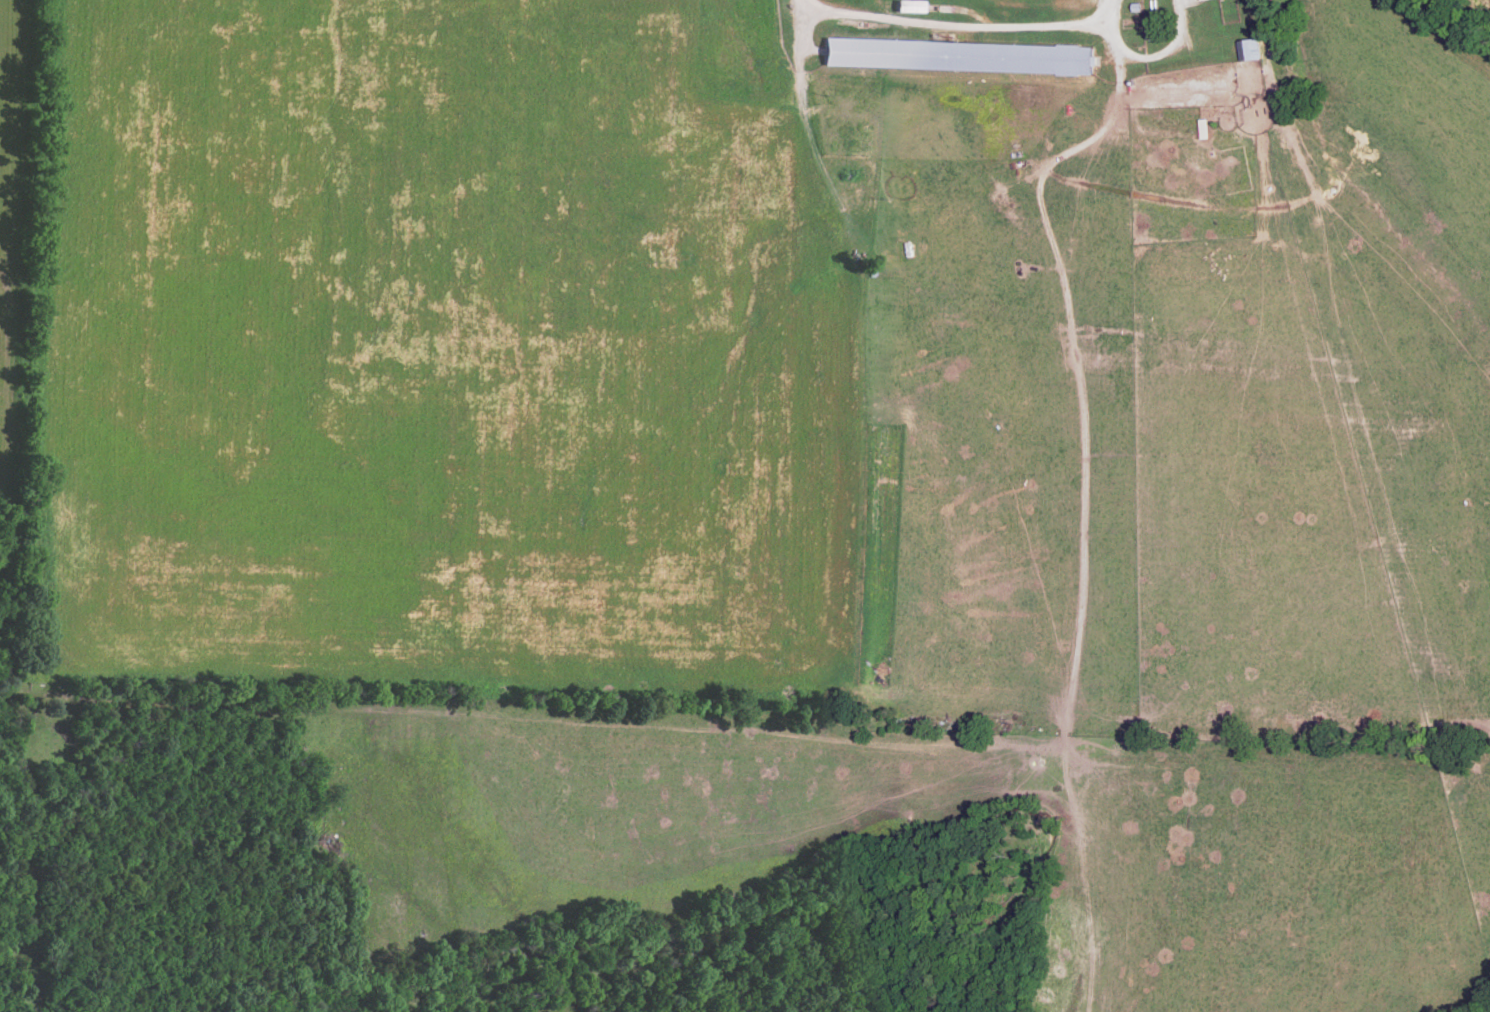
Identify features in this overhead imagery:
building: (1253, 49)
building: (957, 56)
road: (1144, 56)
building: (1204, 129)

